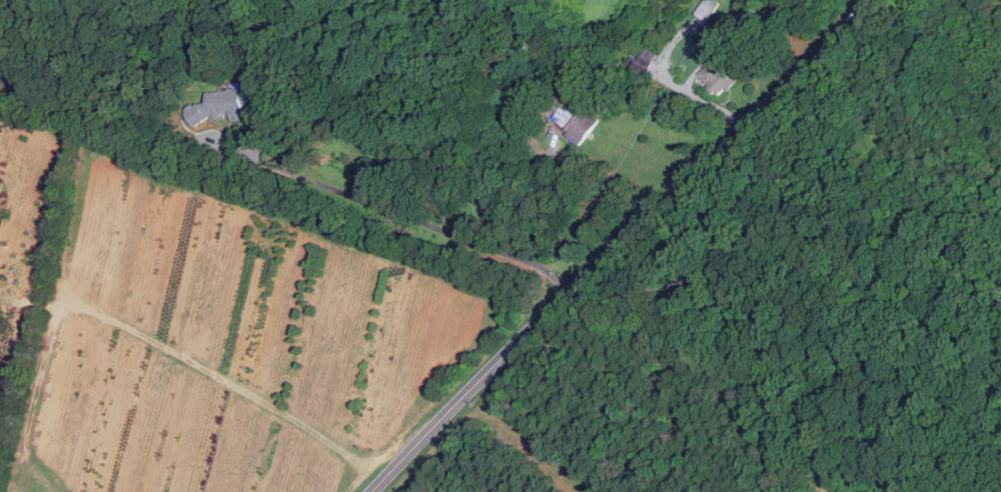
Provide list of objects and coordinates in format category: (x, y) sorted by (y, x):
building: (707, 9)
building: (753, 23)
building: (647, 57)
building: (719, 73)
building: (221, 105)
building: (578, 123)
road: (612, 177)
road: (399, 214)
road: (620, 243)

